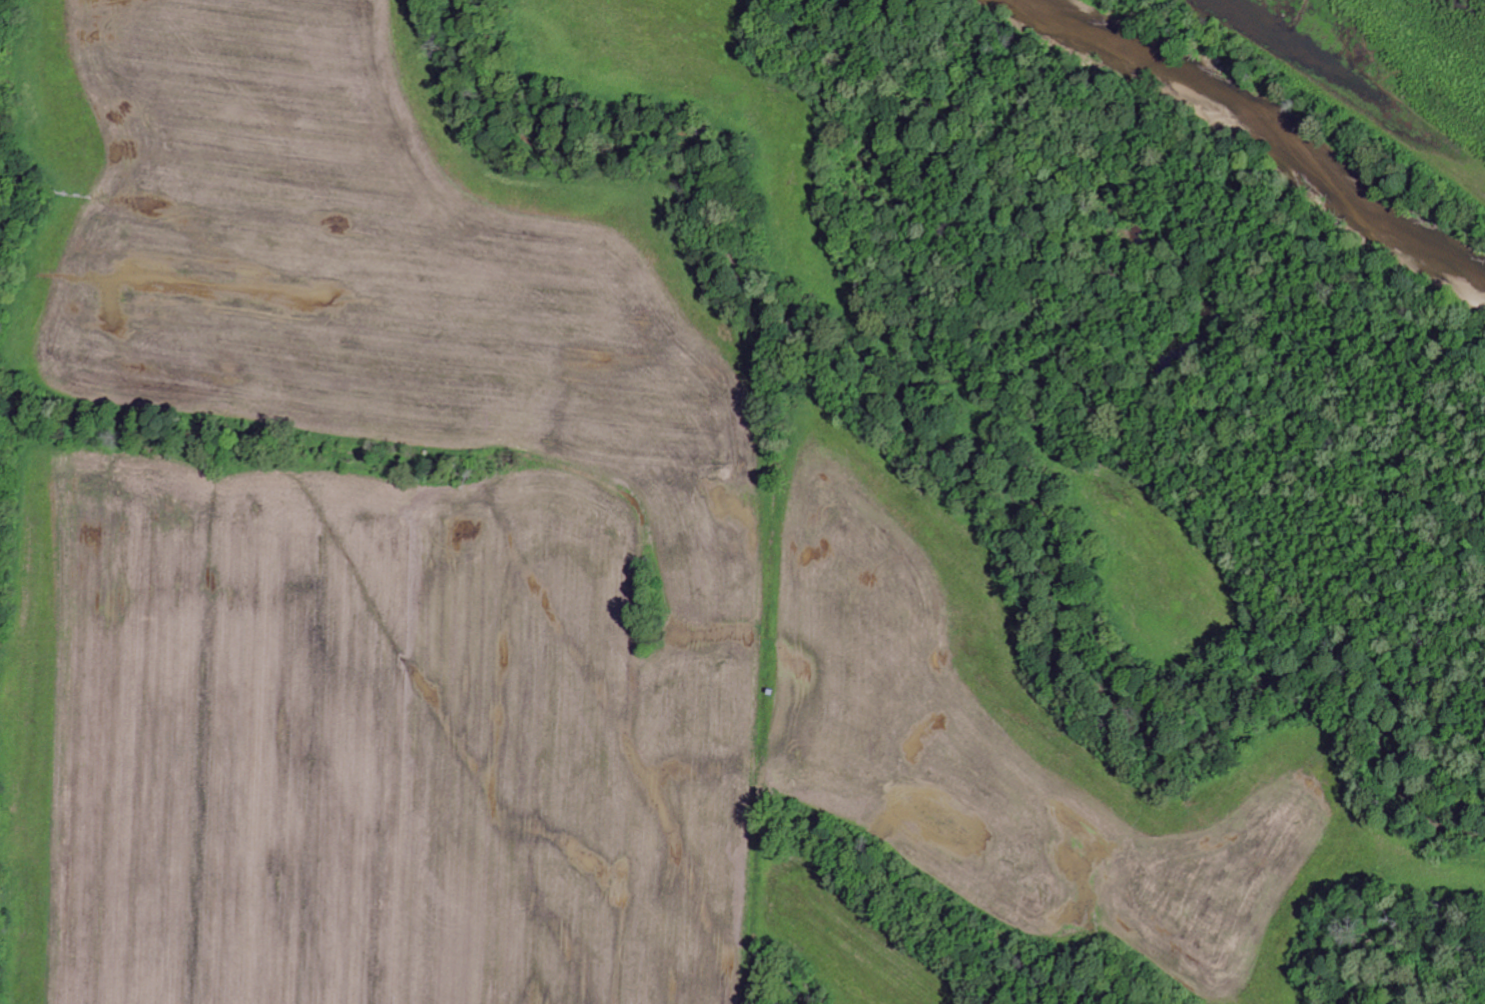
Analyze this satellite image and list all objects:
river: (1266, 124)

